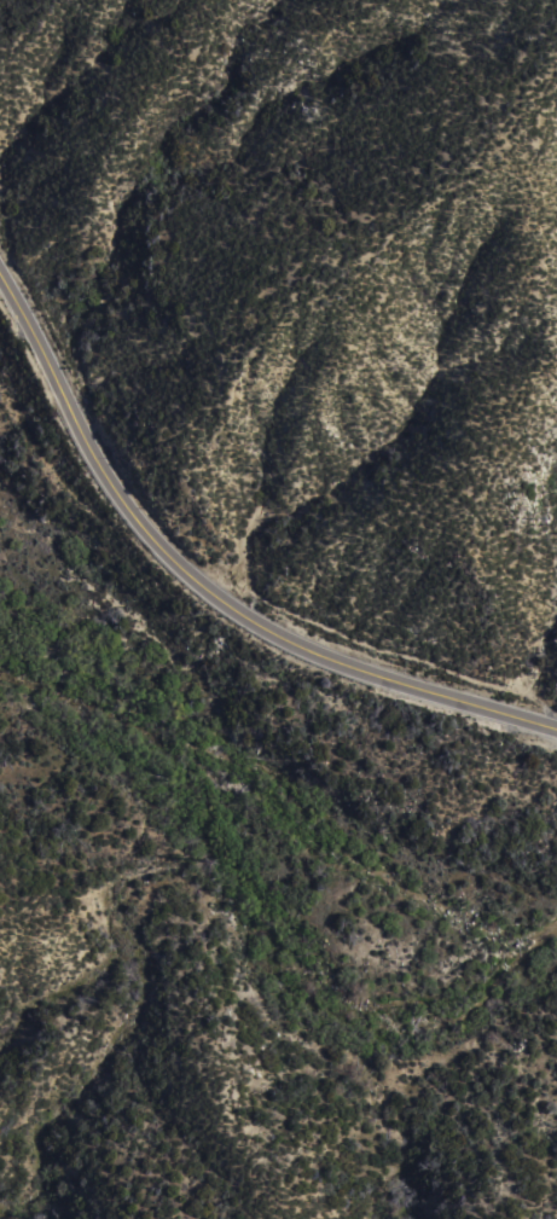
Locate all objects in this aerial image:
road: (208, 591)

